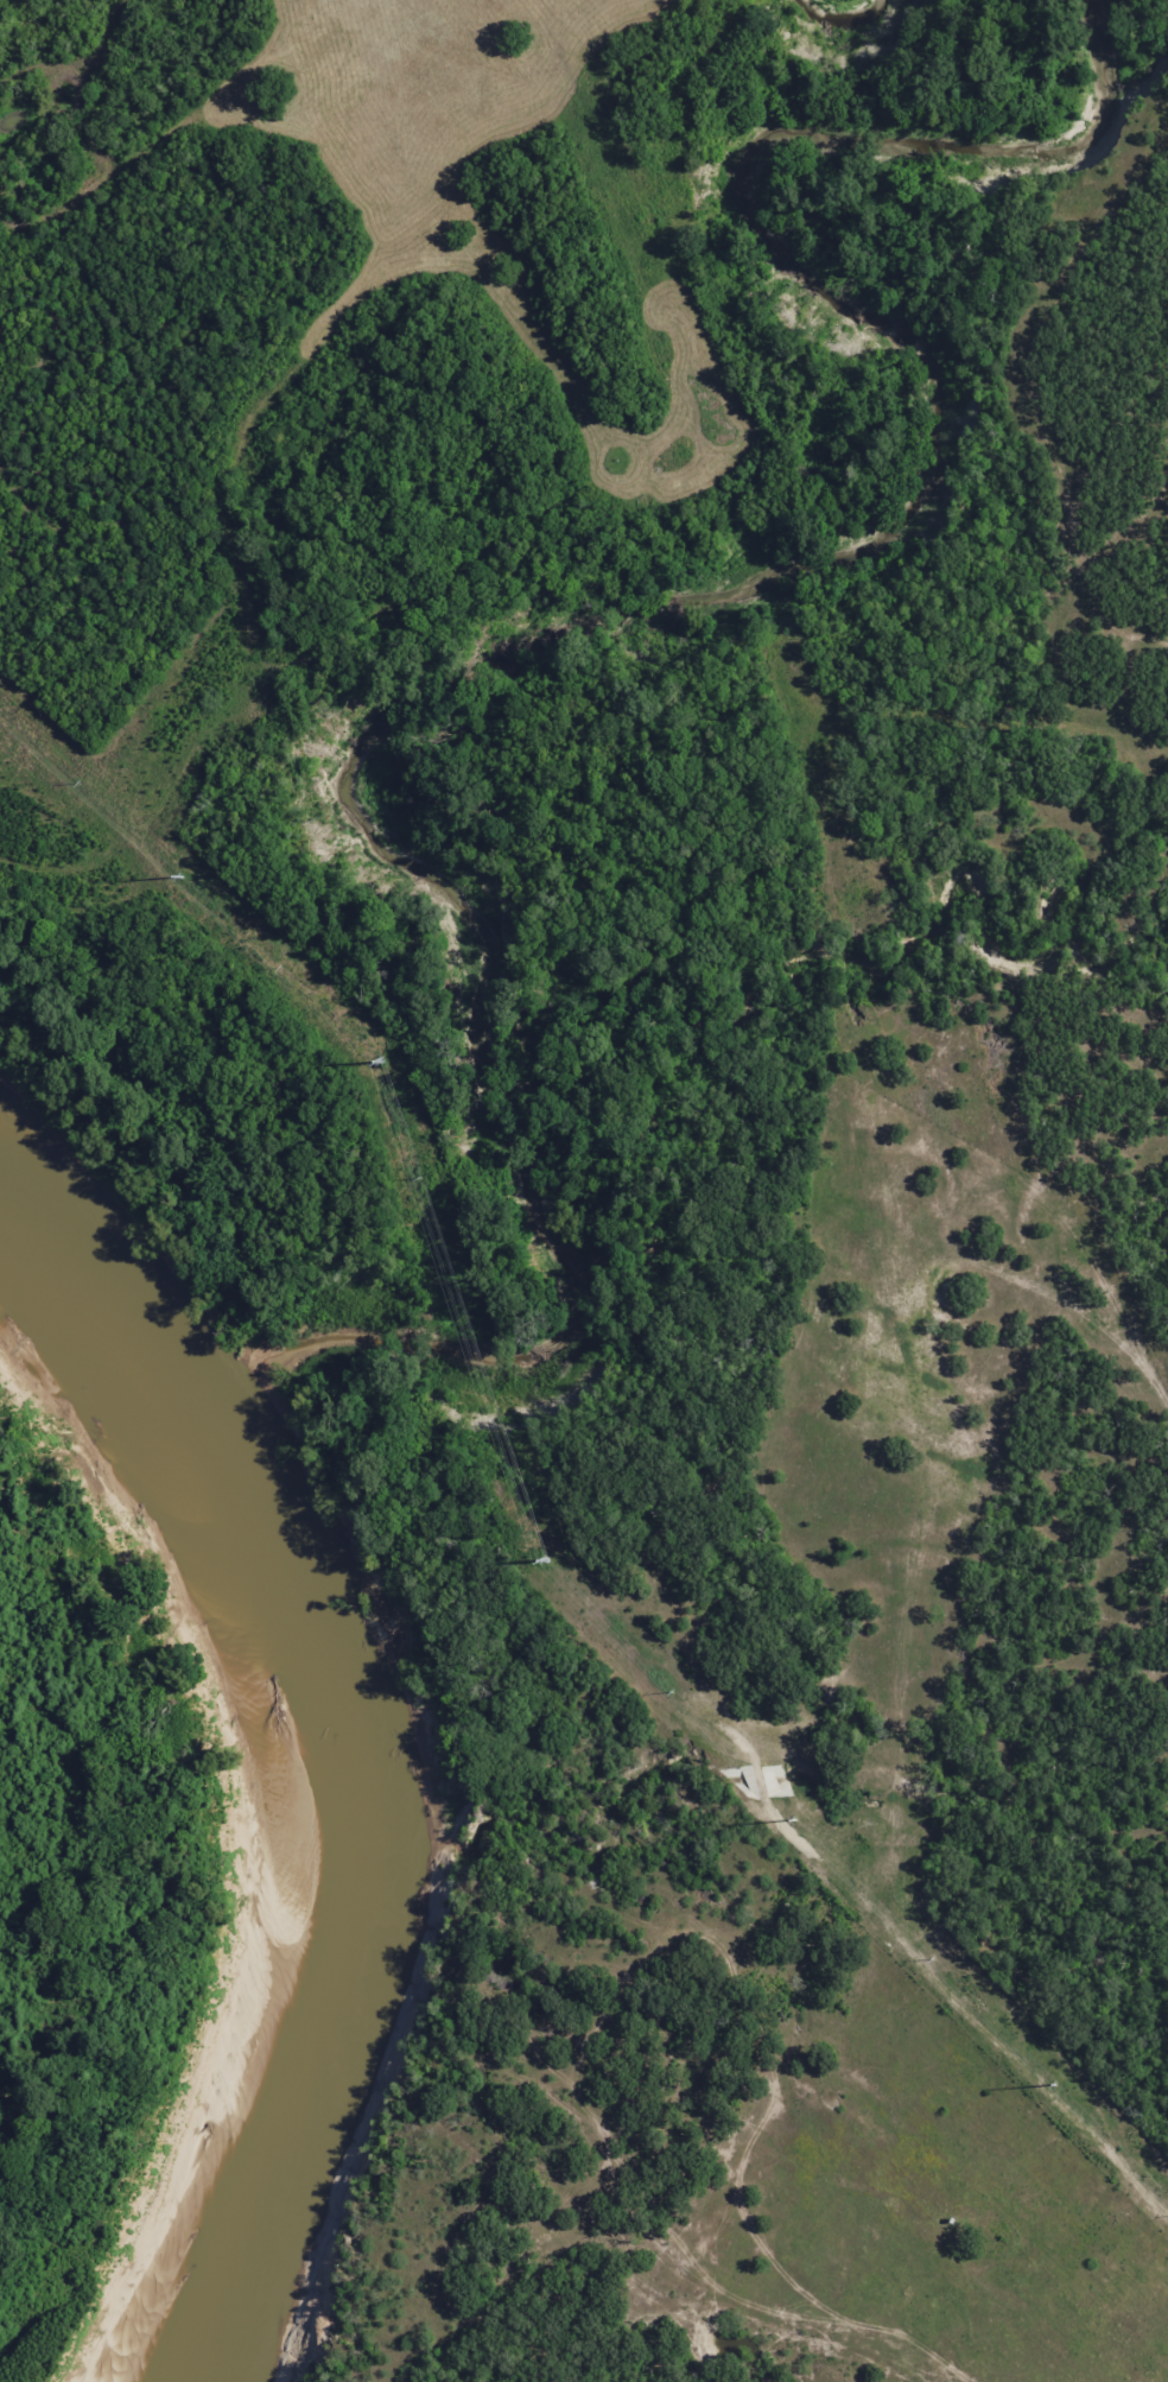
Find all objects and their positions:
power tower: (179, 876)
power tower: (376, 1058)
power tower: (541, 1560)
river: (325, 1782)
power tower: (795, 1819)
power tower: (1050, 2086)

